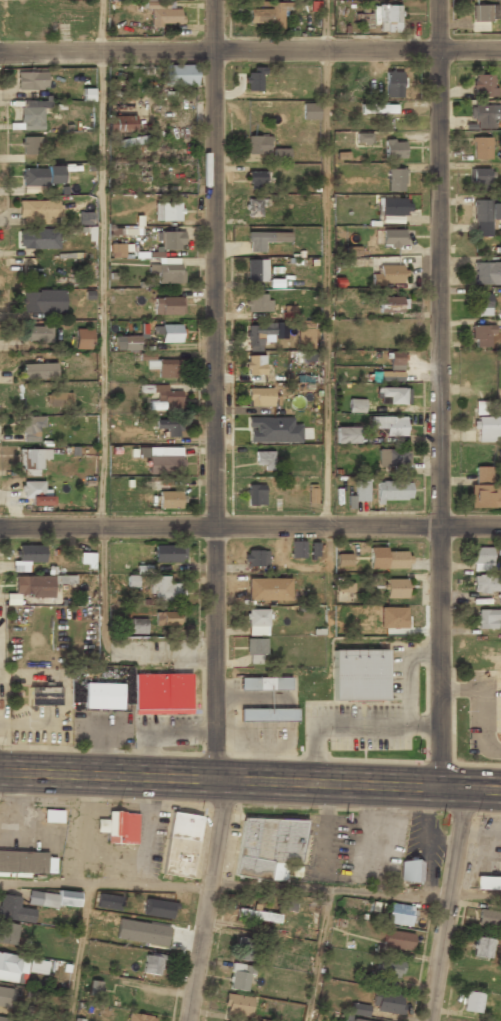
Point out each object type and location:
building: (148, 0)
building: (265, 13)
building: (484, 13)
building: (165, 16)
building: (388, 19)
road: (250, 51)
building: (180, 75)
building: (253, 80)
building: (31, 81)
building: (483, 85)
building: (393, 86)
building: (379, 109)
building: (309, 112)
building: (31, 116)
building: (483, 117)
building: (122, 123)
building: (364, 138)
building: (256, 145)
building: (29, 146)
building: (480, 149)
building: (394, 150)
building: (281, 155)
building: (395, 179)
building: (478, 179)
building: (34, 180)
building: (255, 180)
building: (391, 207)
building: (254, 208)
building: (38, 210)
building: (486, 211)
building: (167, 213)
building: (85, 218)
building: (38, 239)
building: (392, 239)
building: (264, 240)
building: (169, 241)
building: (117, 250)
road: (325, 263)
building: (255, 271)
building: (167, 274)
building: (487, 274)
building: (388, 275)
building: (43, 302)
building: (256, 304)
building: (390, 305)
building: (168, 306)
building: (482, 306)
road: (100, 329)
building: (304, 332)
building: (258, 333)
building: (37, 334)
building: (171, 334)
building: (480, 337)
building: (83, 340)
building: (131, 344)
building: (310, 357)
building: (255, 366)
building: (164, 368)
building: (393, 368)
building: (38, 371)
road: (214, 389)
road: (439, 393)
building: (391, 395)
building: (162, 396)
building: (262, 398)
building: (58, 400)
building: (355, 406)
building: (481, 407)
building: (389, 425)
building: (253, 427)
building: (168, 428)
building: (31, 430)
building: (485, 431)
building: (346, 436)
building: (164, 459)
building: (393, 459)
building: (31, 461)
building: (263, 461)
building: (484, 490)
building: (392, 491)
building: (358, 493)
building: (35, 496)
building: (255, 496)
building: (169, 500)
road: (250, 526)
building: (314, 549)
building: (297, 550)
building: (168, 554)
building: (27, 556)
building: (481, 558)
building: (87, 559)
building: (255, 559)
building: (395, 559)
building: (343, 560)
building: (64, 579)
building: (132, 580)
building: (29, 585)
building: (487, 585)
building: (345, 587)
building: (395, 588)
building: (268, 590)
building: (164, 591)
building: (12, 599)
building: (166, 620)
building: (486, 620)
building: (256, 622)
building: (137, 627)
building: (255, 649)
building: (359, 675)
building: (265, 684)
building: (161, 694)
building: (44, 697)
building: (103, 698)
building: (267, 715)
road: (250, 779)
building: (120, 827)
building: (181, 844)
building: (269, 848)
building: (26, 862)
building: (411, 871)
building: (488, 882)
road: (105, 885)
road: (356, 889)
building: (54, 898)
road: (210, 900)
building: (108, 901)
road: (447, 904)
building: (157, 908)
building: (14, 909)
building: (400, 914)
building: (258, 915)
building: (489, 918)
building: (8, 933)
building: (398, 939)
building: (483, 947)
building: (245, 948)
road: (77, 953)
road: (318, 955)
building: (152, 964)
building: (38, 966)
building: (13, 967)
building: (389, 968)
building: (240, 977)
building: (6, 997)
building: (387, 1002)
building: (472, 1002)
building: (237, 1005)
building: (359, 1009)
building: (140, 1017)
building: (6, 1018)

